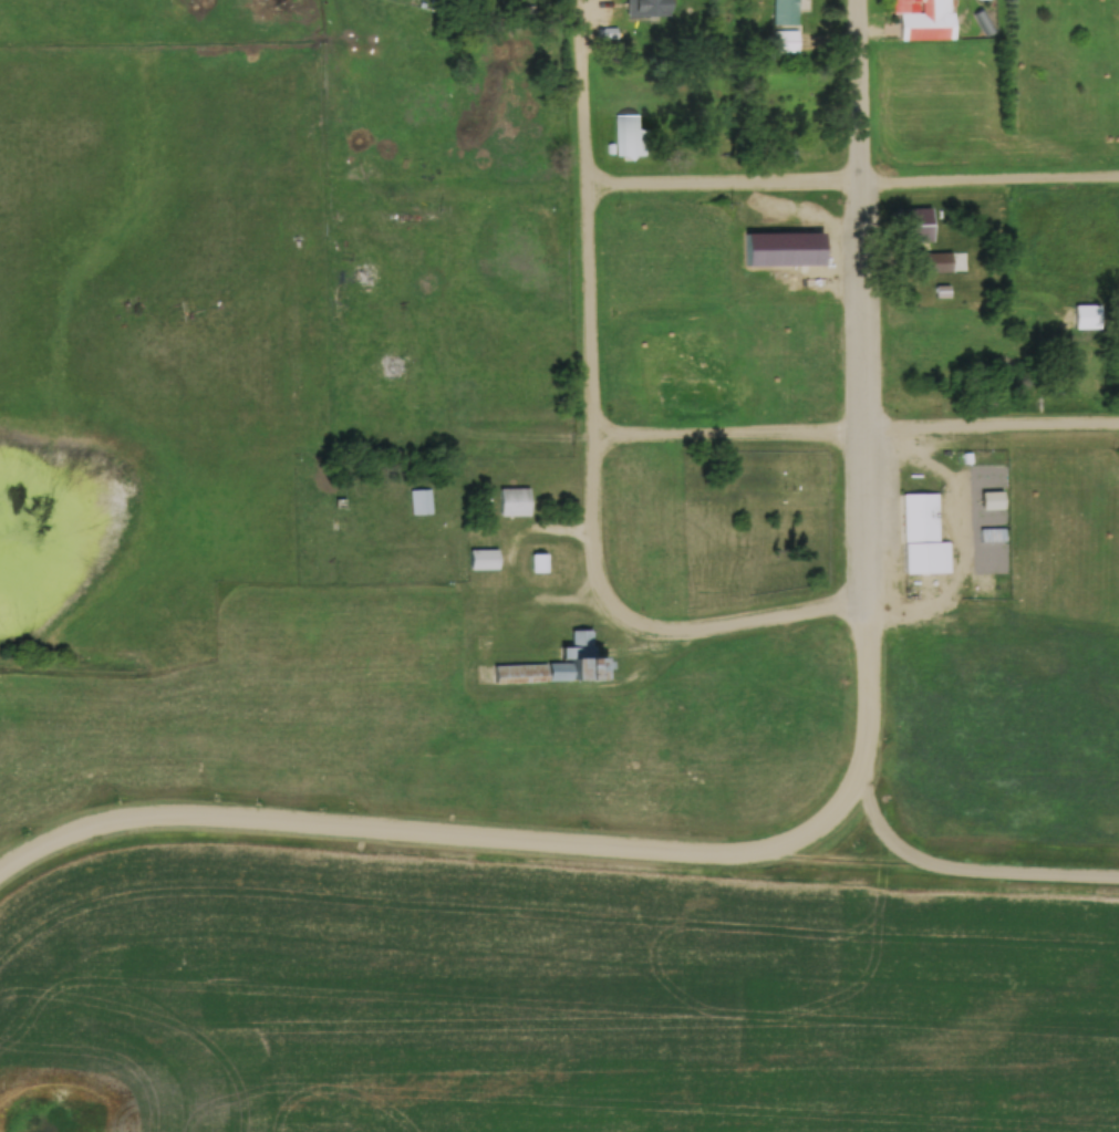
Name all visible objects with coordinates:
building: (642, 9)
building: (784, 11)
building: (921, 19)
building: (986, 28)
building: (604, 32)
building: (785, 40)
road: (858, 93)
building: (629, 137)
building: (785, 152)
road: (990, 185)
road: (723, 193)
building: (911, 221)
building: (774, 248)
building: (365, 276)
road: (866, 393)
road: (854, 433)
road: (591, 438)
building: (419, 501)
building: (514, 501)
building: (920, 534)
building: (483, 559)
building: (538, 562)
building: (530, 673)
road: (522, 838)
road: (838, 860)
road: (959, 866)

